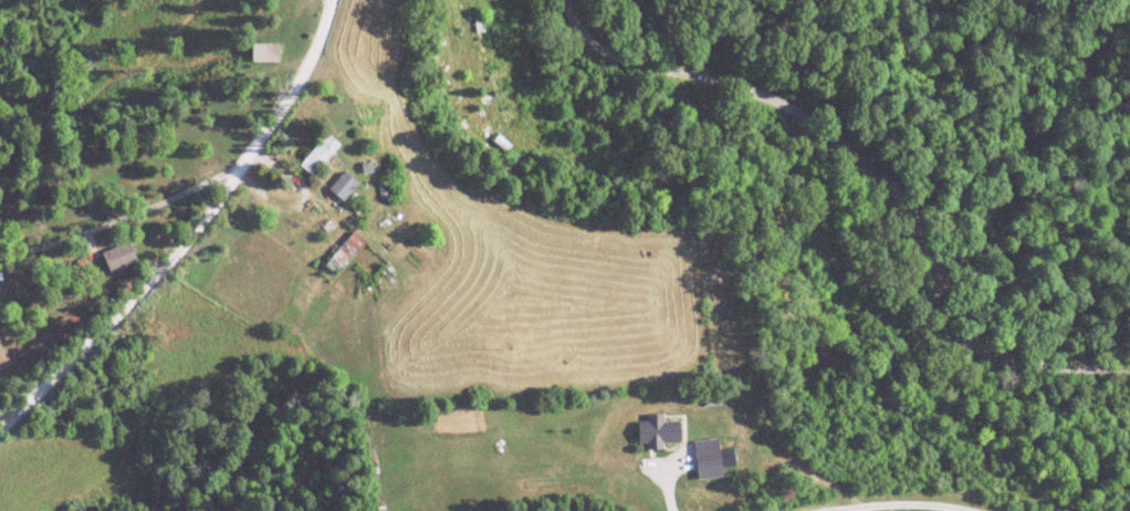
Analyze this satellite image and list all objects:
road: (881, 153)
building: (320, 155)
building: (344, 187)
road: (193, 236)
building: (345, 253)
building: (121, 258)
building: (661, 434)
building: (710, 461)

